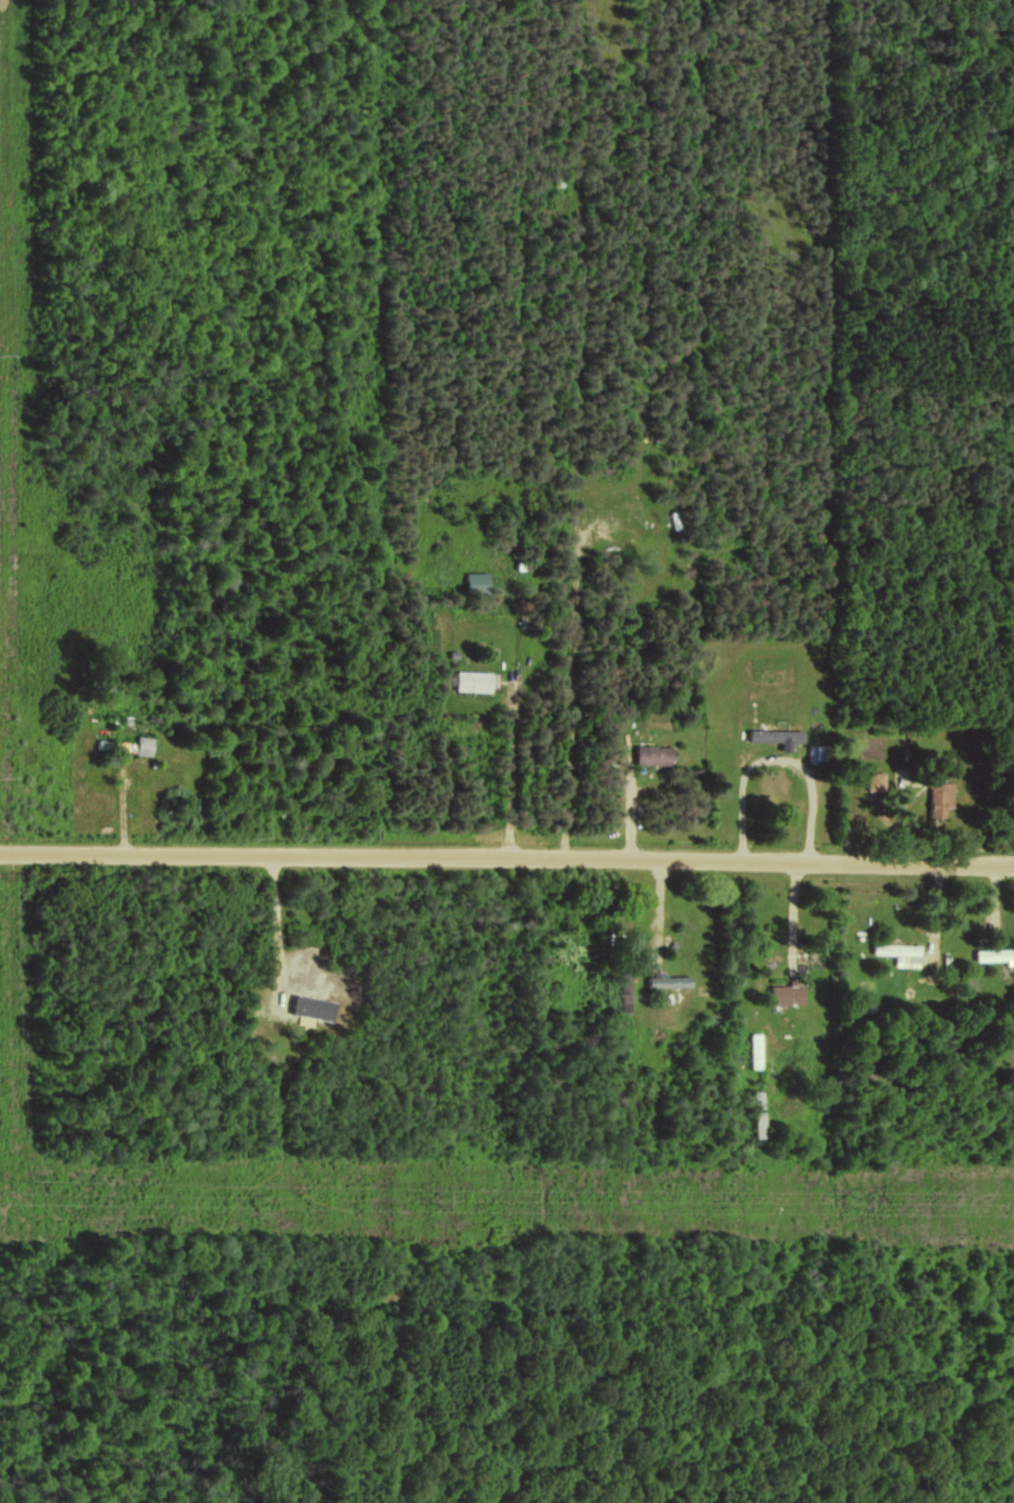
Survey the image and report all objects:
building: (477, 582)
building: (472, 681)
road: (569, 694)
building: (777, 736)
building: (143, 745)
building: (818, 752)
building: (654, 755)
road: (782, 763)
road: (512, 781)
building: (876, 781)
building: (940, 798)
road: (507, 858)
road: (800, 929)
building: (900, 953)
building: (996, 955)
building: (669, 980)
building: (787, 993)
building: (312, 1009)
building: (756, 1050)
building: (758, 1114)
power tower: (10, 1199)
power tower: (440, 1201)
power tower: (859, 1204)

